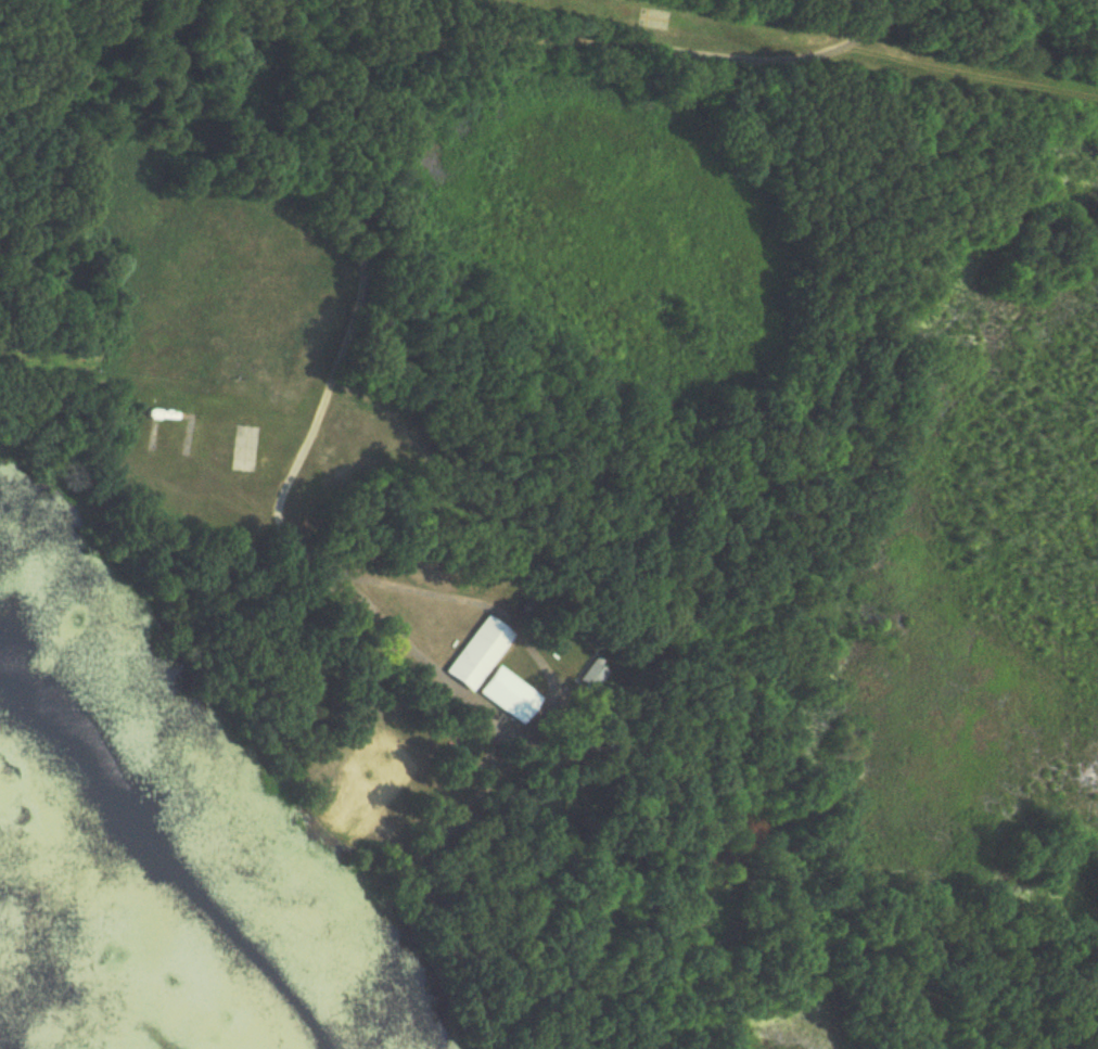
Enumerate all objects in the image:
road: (354, 140)
building: (475, 653)
building: (505, 694)

